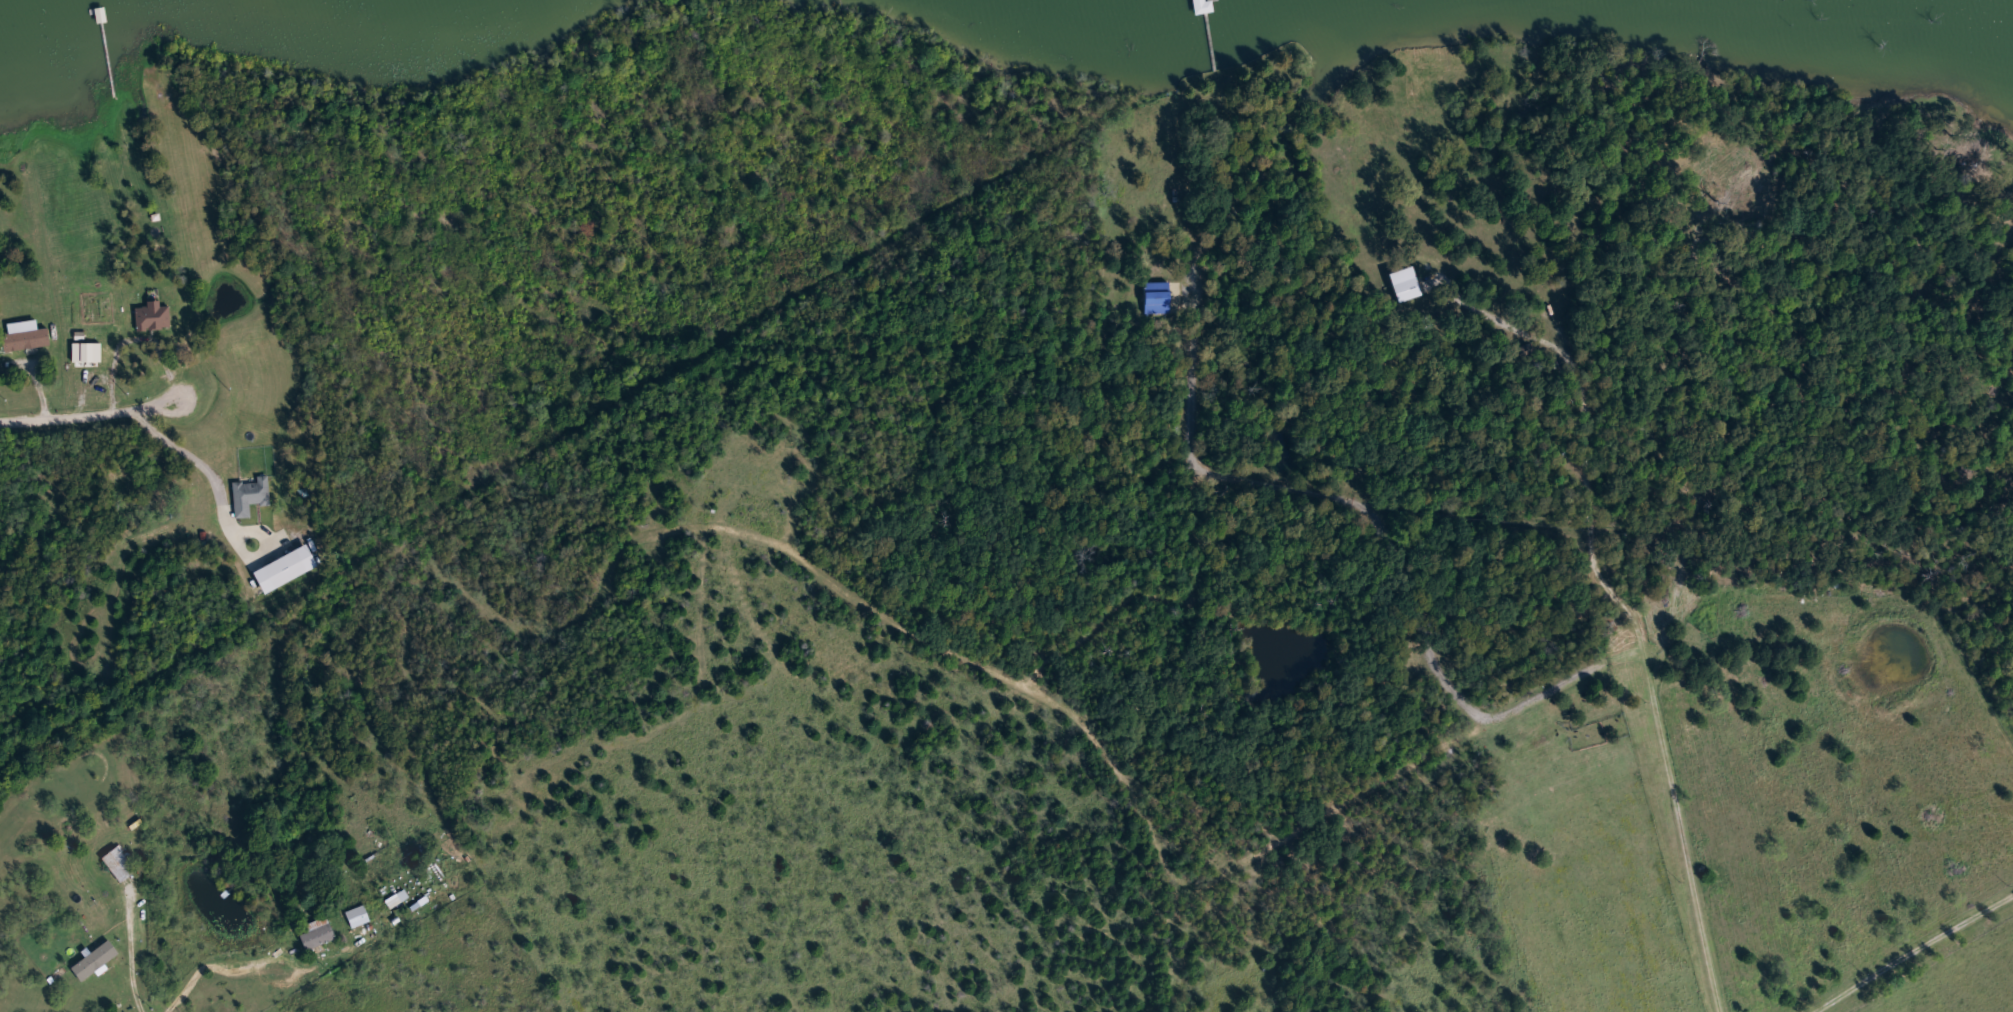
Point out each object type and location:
building: (1204, 6)
building: (1748, 188)
building: (1407, 287)
building: (25, 337)
building: (91, 356)
building: (250, 495)
road: (81, 716)
road: (1673, 800)
building: (119, 864)
building: (357, 916)
building: (317, 934)
building: (95, 961)

